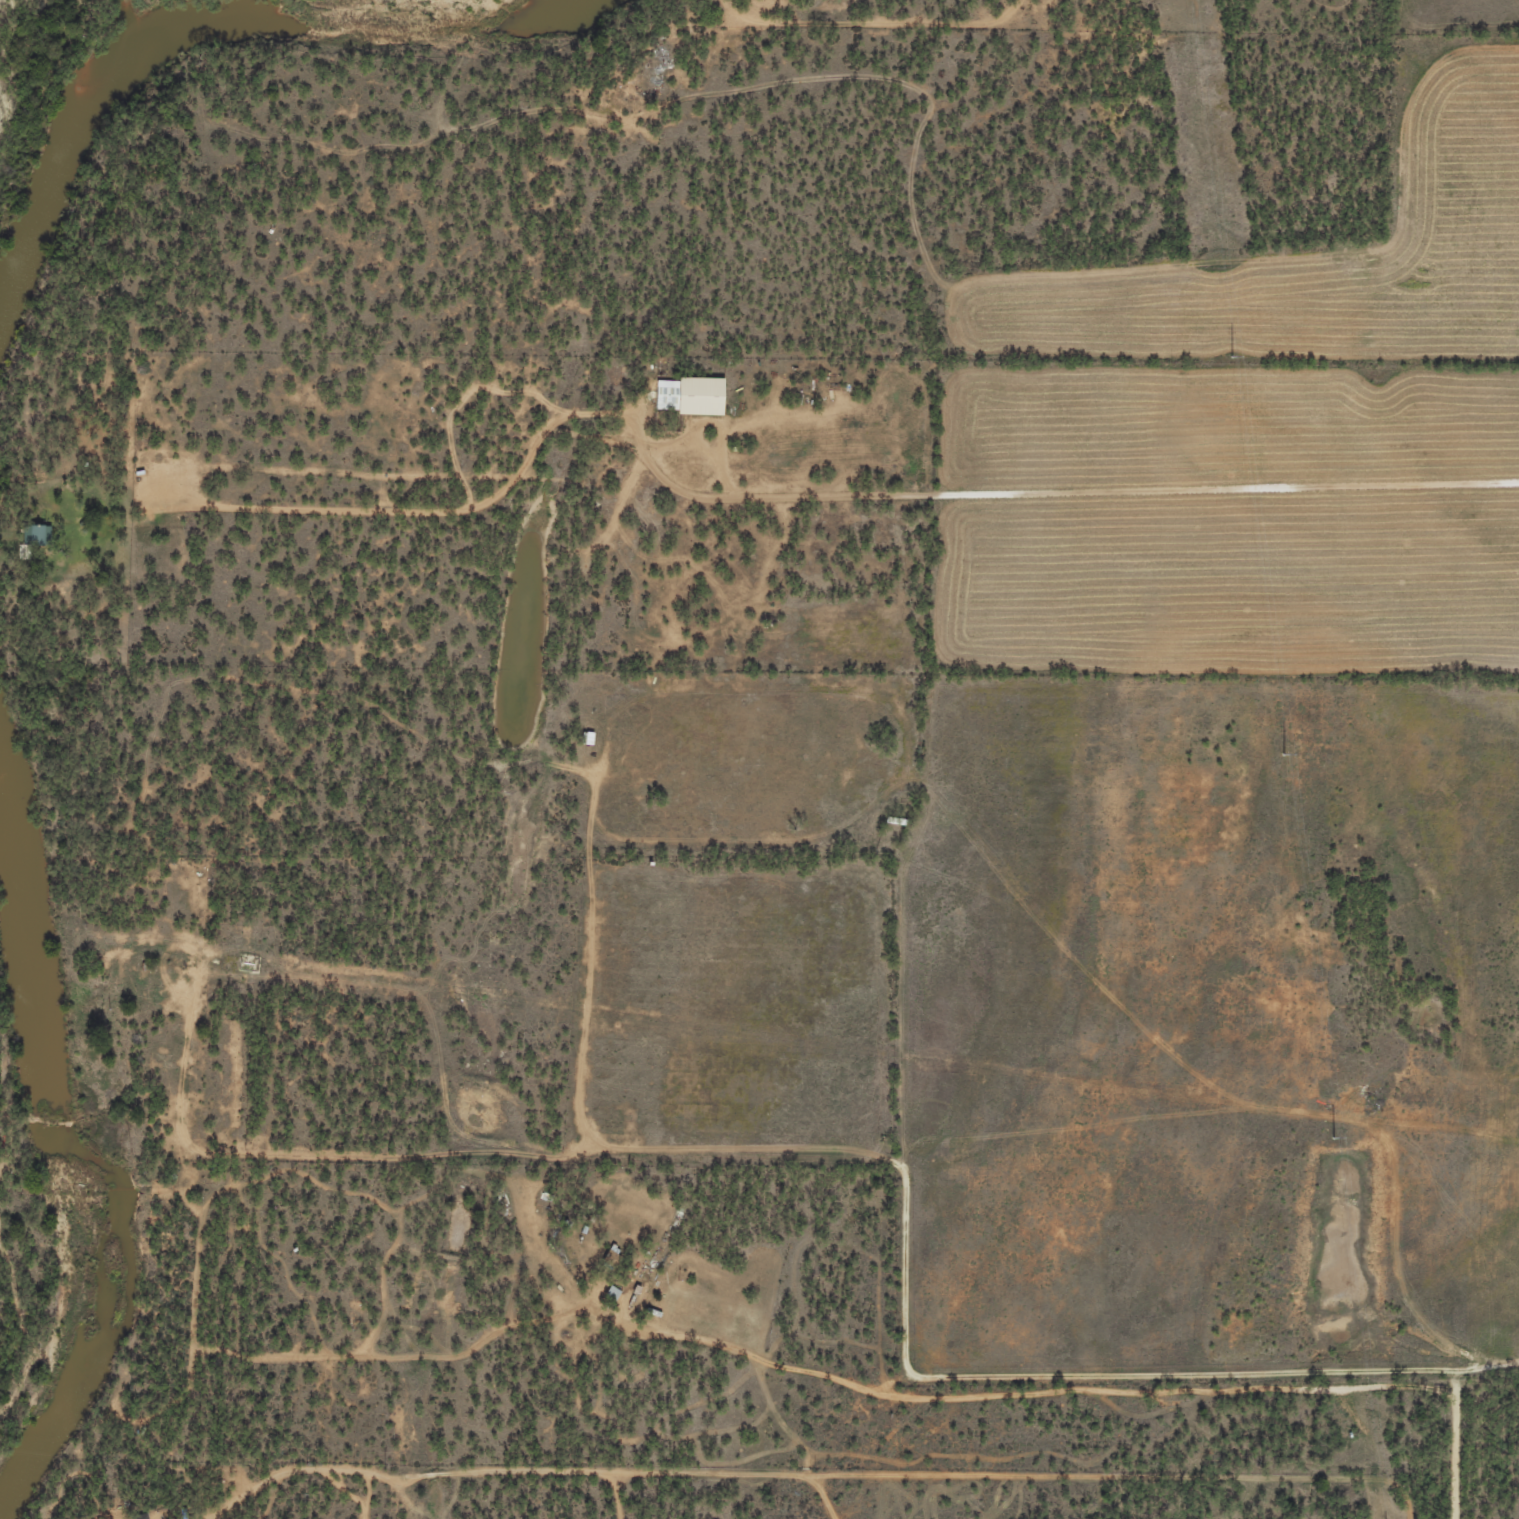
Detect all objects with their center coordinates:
road: (1381, 276)
power tower: (1232, 356)
building: (694, 396)
building: (43, 535)
power tower: (1284, 754)
power tower: (1333, 1137)
road: (857, 1216)
building: (616, 1292)
road: (1419, 1454)

